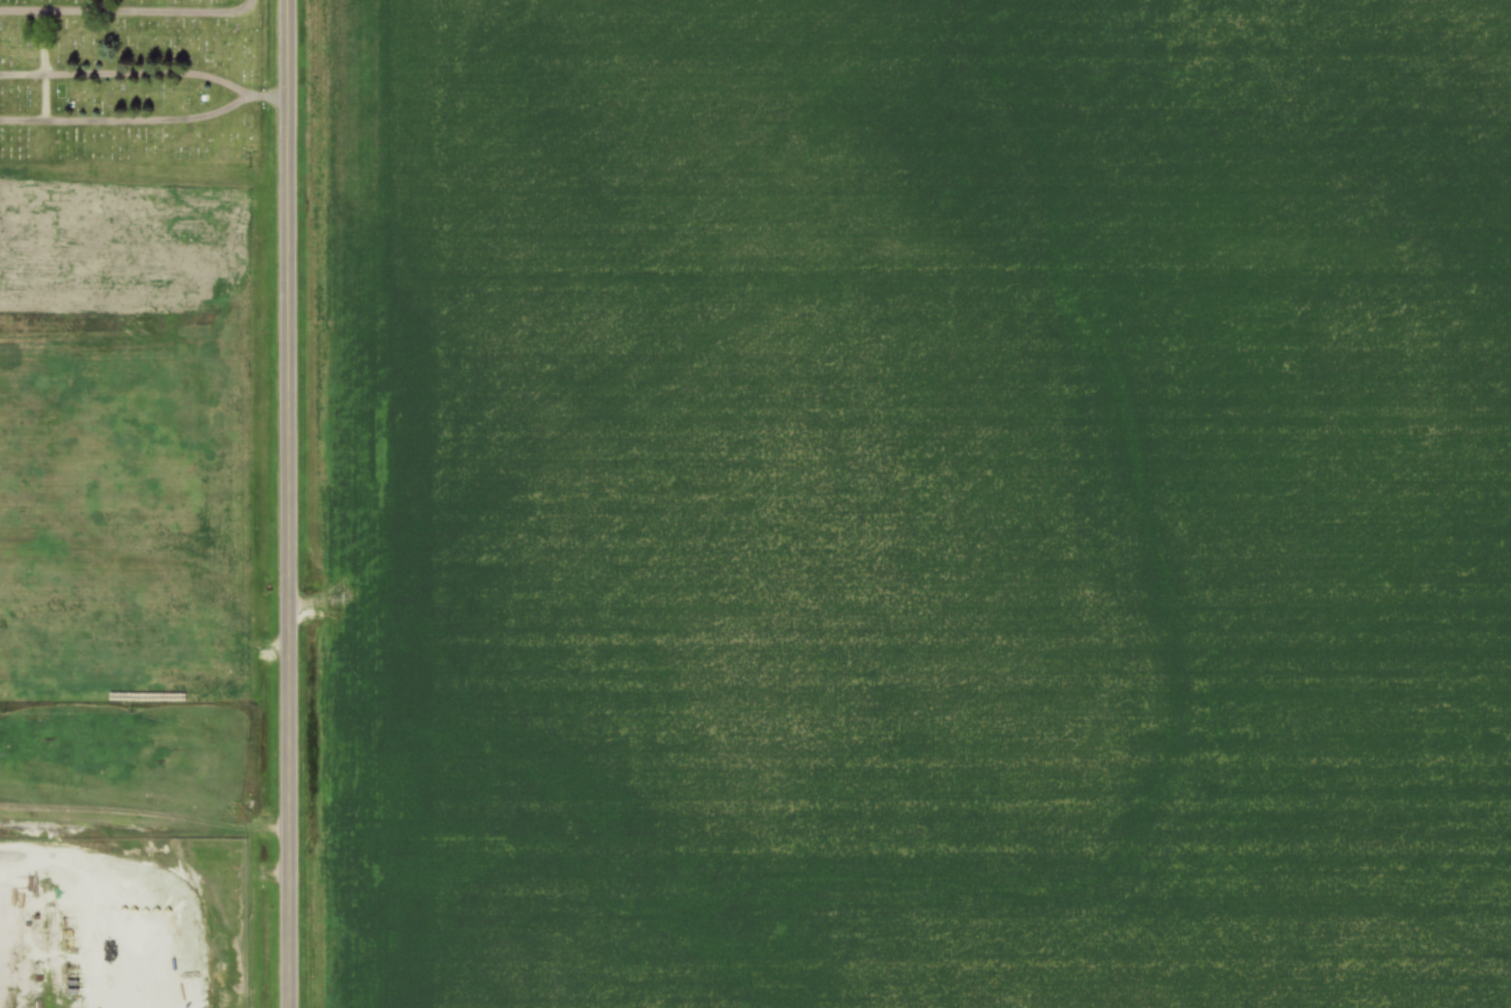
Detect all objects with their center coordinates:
road: (112, 35)
road: (145, 75)
road: (46, 95)
road: (130, 120)
road: (289, 504)
crop: (947, 504)

